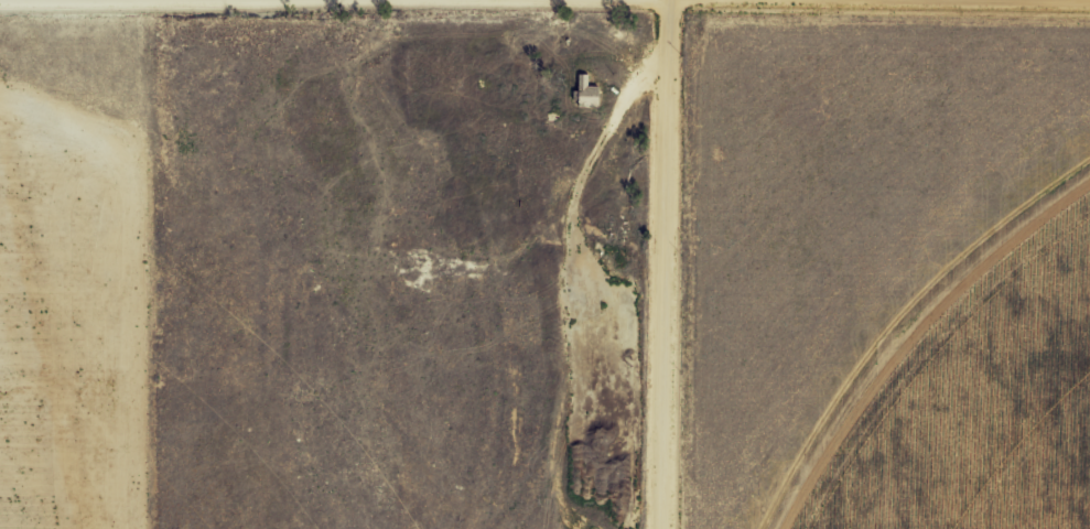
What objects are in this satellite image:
building: (589, 94)
road: (711, 264)

